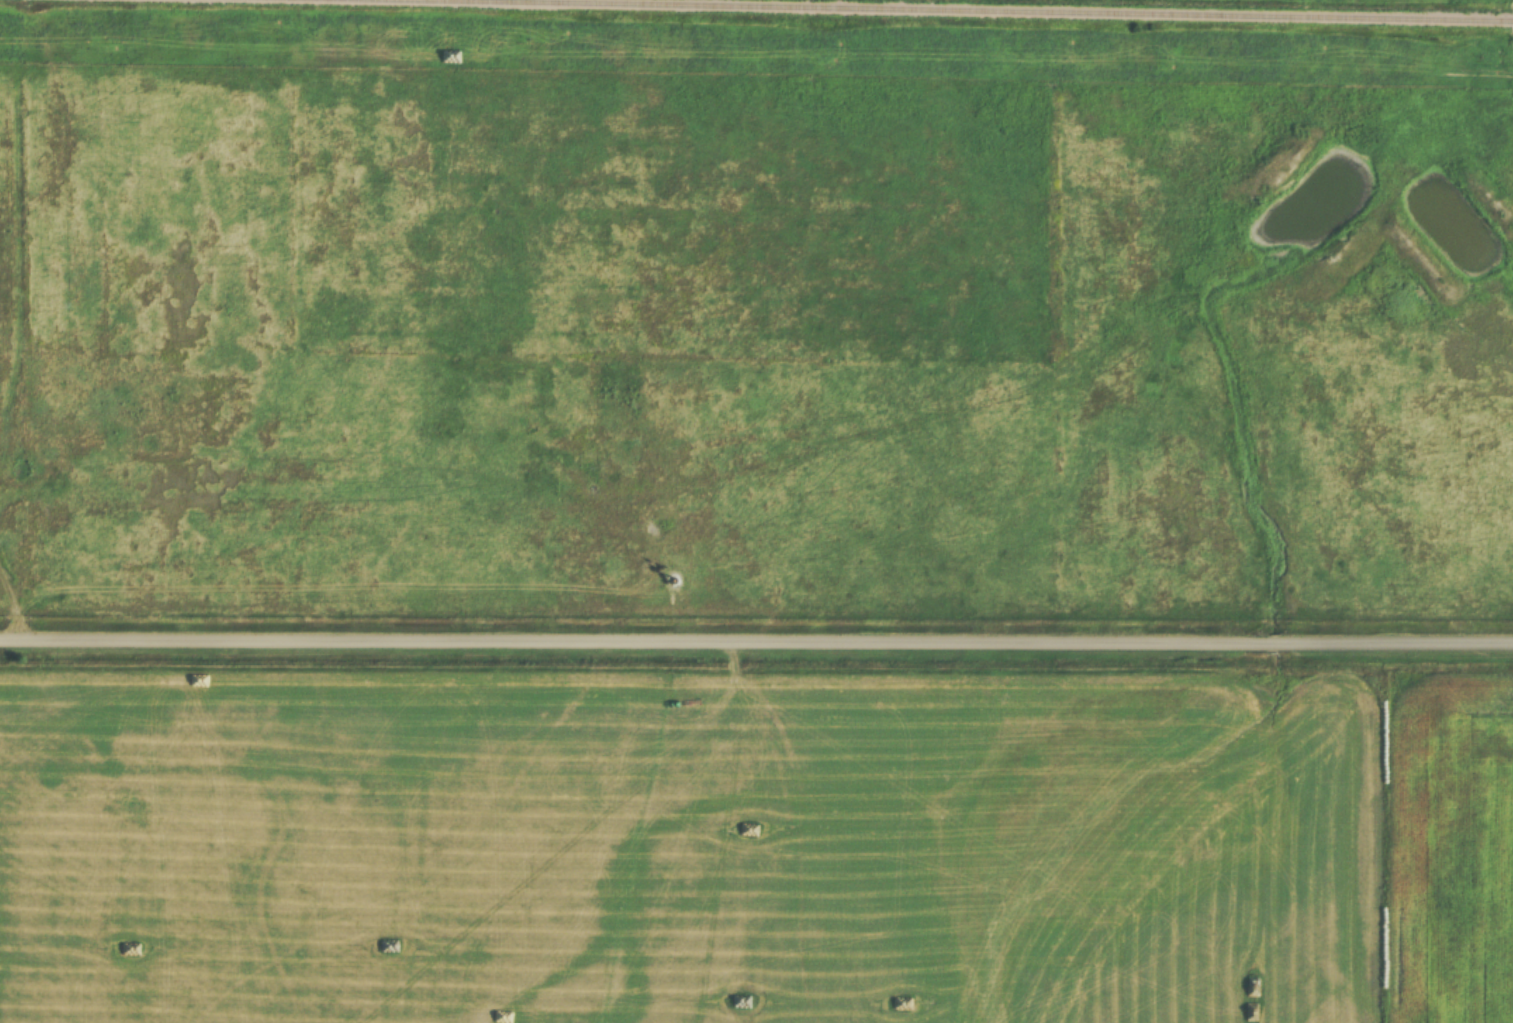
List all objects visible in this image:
railway: (933, 11)
road: (756, 643)

